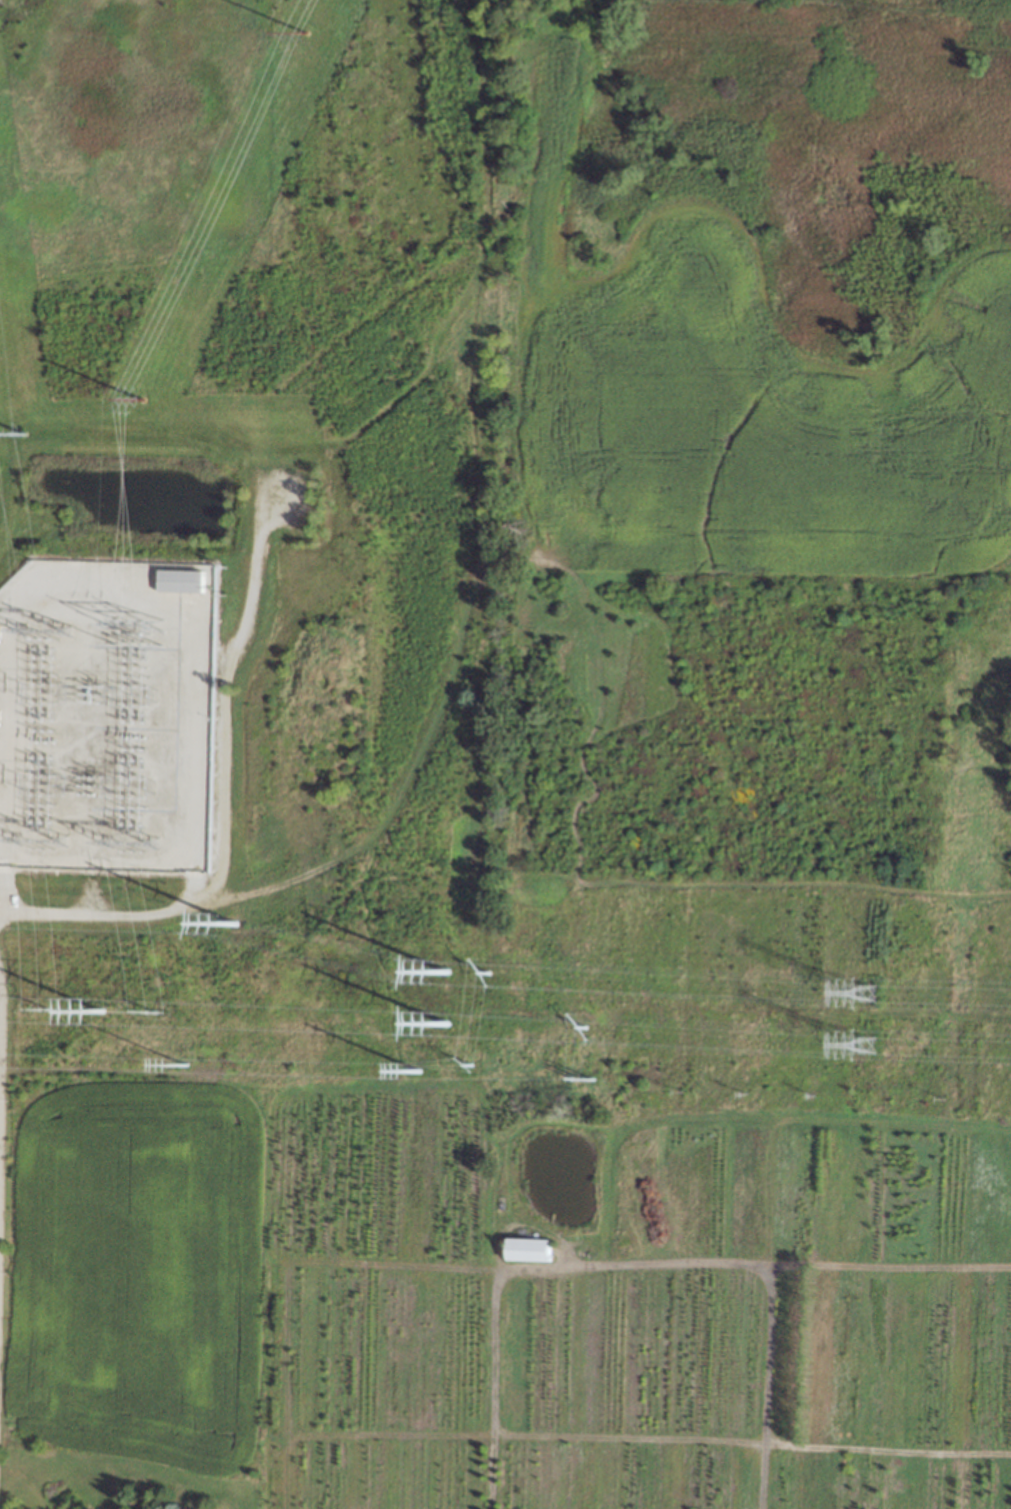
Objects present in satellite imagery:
power tower: (304, 30)
power tower: (140, 397)
power tower: (24, 436)
building: (183, 580)
power tower: (132, 624)
power tower: (49, 634)
power substation: (108, 716)
power tower: (46, 842)
power tower: (135, 844)
power tower: (238, 928)
power tower: (491, 972)
power tower: (447, 973)
power tower: (865, 994)
power tower: (54, 1007)
power tower: (157, 1008)
power tower: (105, 1010)
power tower: (586, 1024)
power tower: (452, 1025)
power tower: (866, 1050)
power tower: (185, 1062)
power tower: (472, 1065)
power tower: (420, 1072)
power tower: (584, 1080)
crop: (672, 1232)
building: (531, 1250)
crop: (140, 1276)

